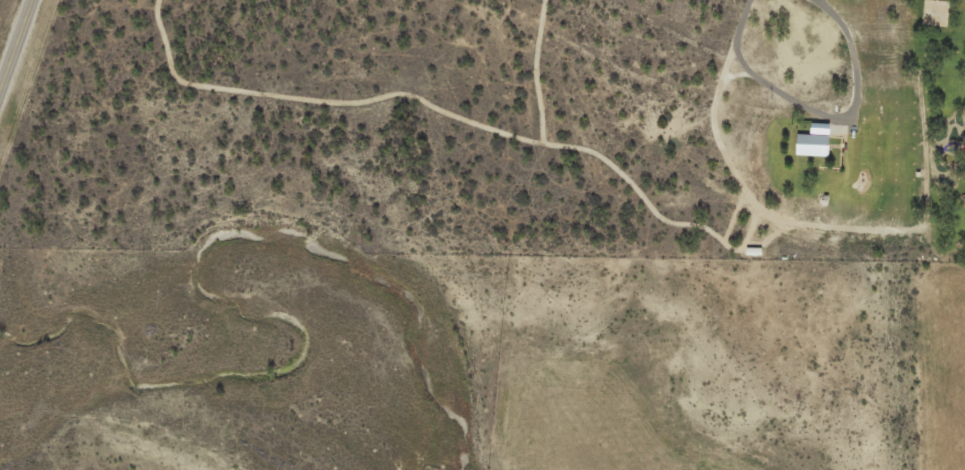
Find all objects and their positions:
road: (16, 46)
building: (816, 144)

